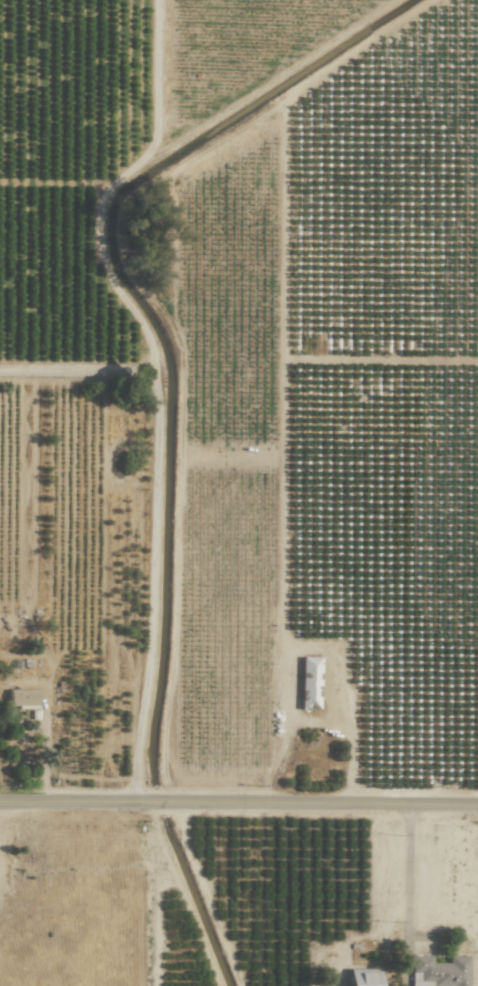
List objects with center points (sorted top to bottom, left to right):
road: (163, 152)
road: (142, 522)
building: (308, 684)
building: (22, 698)
road: (239, 810)
road: (405, 898)
building: (438, 972)
building: (361, 977)

